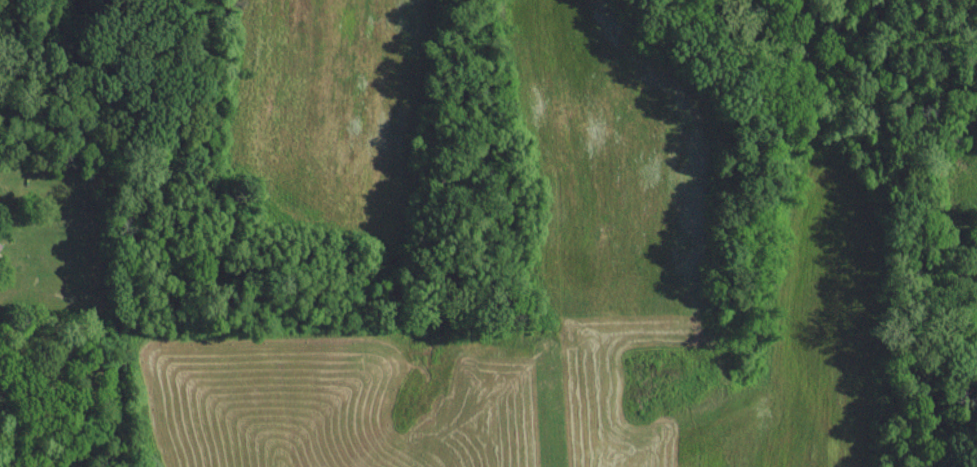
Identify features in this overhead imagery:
building: (0, 243)
crop: (509, 401)
road: (553, 410)

